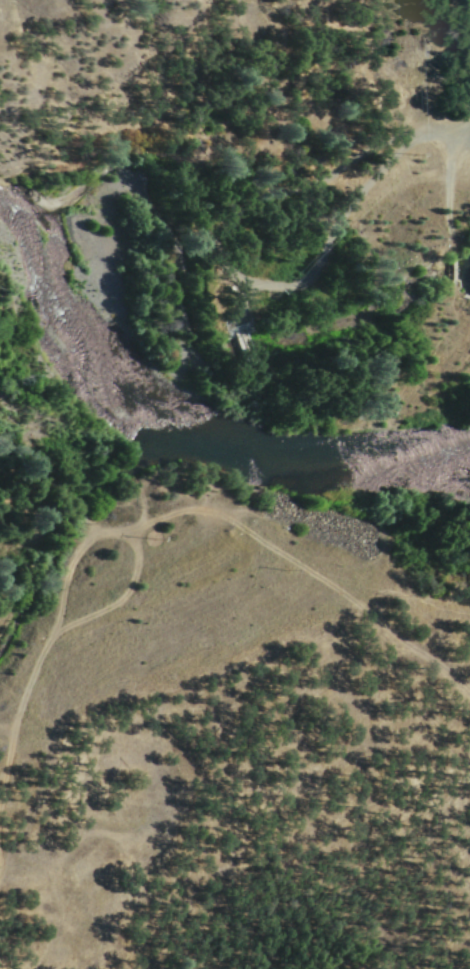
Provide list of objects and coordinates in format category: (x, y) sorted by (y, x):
road: (24, 694)

